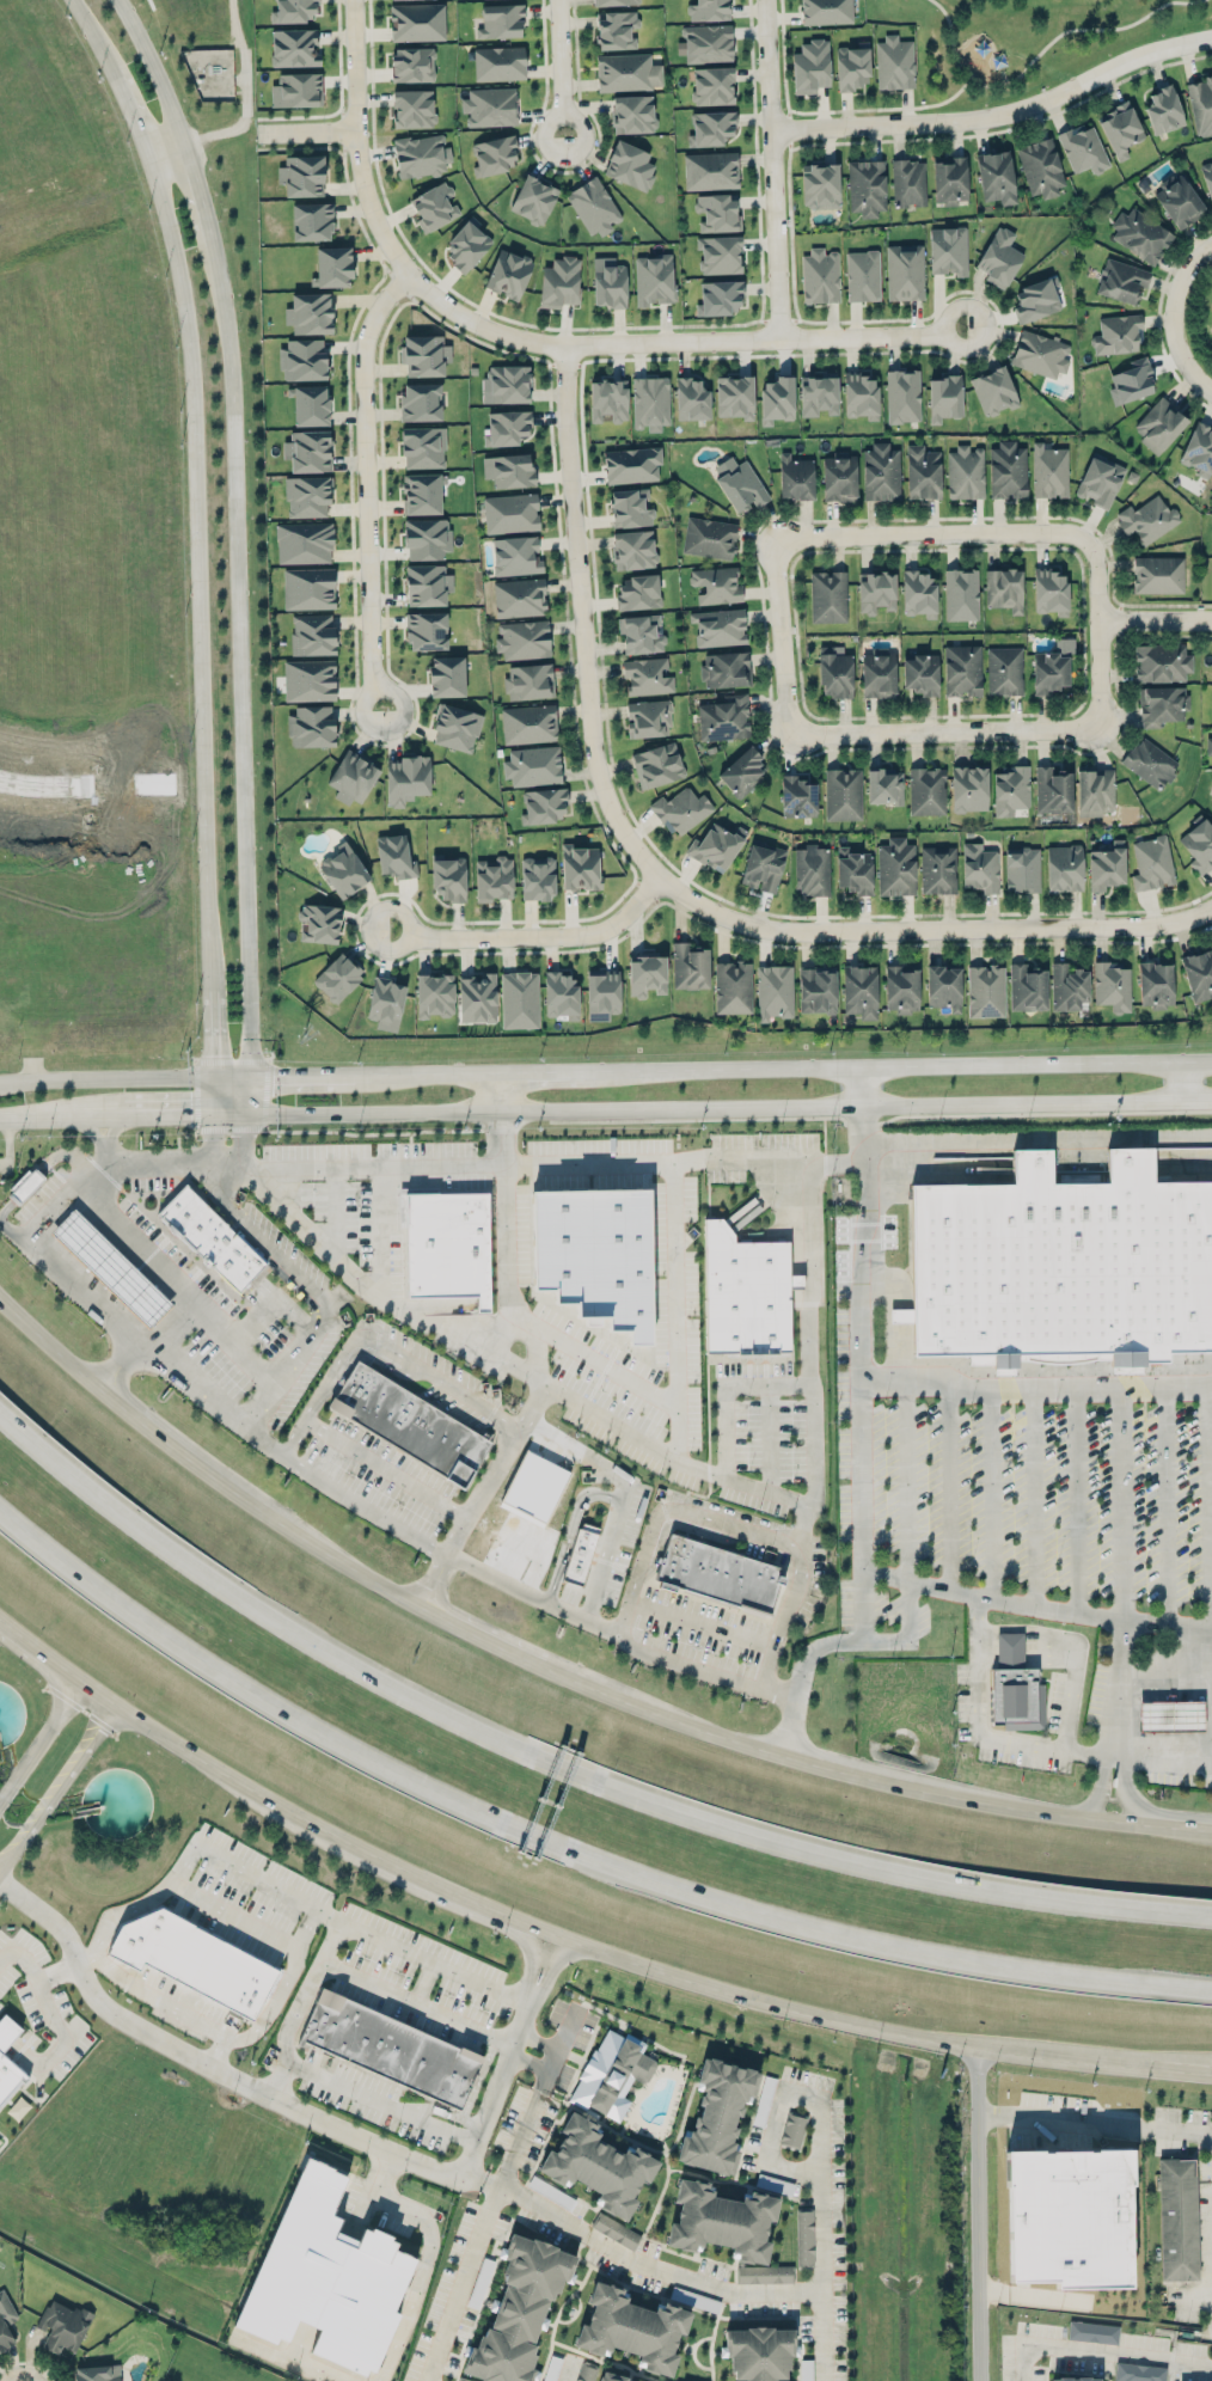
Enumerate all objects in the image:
building: (614, 2)
building: (293, 10)
building: (709, 10)
building: (826, 12)
building: (501, 20)
building: (417, 22)
building: (616, 29)
road: (92, 31)
building: (706, 43)
building: (294, 47)
road: (1040, 50)
road: (783, 54)
building: (894, 62)
building: (498, 63)
building: (412, 65)
road: (562, 66)
building: (810, 66)
building: (852, 66)
road: (157, 71)
building: (628, 72)
building: (712, 85)
building: (296, 90)
road: (245, 91)
building: (1201, 105)
building: (490, 106)
road: (130, 108)
building: (412, 109)
road: (876, 109)
building: (1163, 110)
building: (632, 114)
road: (996, 114)
building: (710, 128)
road: (307, 129)
building: (1120, 129)
building: (1083, 148)
road: (165, 149)
building: (421, 155)
building: (494, 155)
building: (630, 165)
building: (1040, 167)
building: (710, 170)
road: (770, 171)
building: (301, 175)
building: (996, 177)
building: (1207, 177)
building: (949, 179)
building: (908, 183)
building: (820, 185)
building: (867, 186)
road: (196, 192)
building: (533, 198)
road: (366, 201)
building: (1179, 201)
building: (593, 206)
building: (434, 207)
building: (717, 212)
building: (312, 221)
building: (1140, 234)
building: (466, 244)
building: (948, 250)
building: (720, 253)
building: (999, 257)
building: (332, 267)
building: (904, 271)
building: (508, 273)
building: (862, 275)
building: (820, 276)
building: (654, 279)
building: (1121, 281)
building: (559, 282)
building: (608, 282)
building: (720, 298)
building: (1036, 299)
building: (310, 313)
road: (1173, 317)
building: (1118, 333)
road: (737, 342)
building: (424, 354)
building: (1040, 354)
building: (304, 359)
building: (1131, 381)
building: (507, 384)
building: (993, 391)
building: (819, 394)
building: (861, 394)
building: (734, 396)
building: (902, 396)
building: (944, 397)
building: (691, 399)
building: (777, 399)
building: (608, 400)
building: (421, 402)
building: (650, 402)
building: (310, 405)
building: (1159, 424)
building: (506, 427)
building: (423, 447)
building: (1199, 449)
building: (308, 451)
building: (631, 464)
building: (509, 470)
building: (1008, 470)
building: (1049, 470)
building: (881, 472)
building: (923, 472)
building: (965, 472)
building: (795, 477)
building: (839, 477)
building: (1100, 479)
road: (369, 483)
building: (740, 483)
building: (421, 492)
building: (307, 496)
building: (630, 507)
road: (234, 509)
building: (510, 513)
building: (1147, 519)
road: (930, 535)
building: (709, 537)
building: (427, 538)
building: (304, 543)
building: (632, 549)
building: (516, 556)
road: (197, 567)
building: (1158, 574)
building: (427, 584)
building: (716, 584)
building: (308, 588)
building: (1003, 588)
building: (1051, 590)
building: (638, 592)
building: (876, 592)
building: (919, 593)
building: (961, 594)
building: (519, 596)
building: (827, 596)
road: (582, 622)
road: (1155, 622)
building: (718, 626)
building: (426, 630)
road: (1097, 631)
building: (312, 633)
building: (641, 633)
road: (781, 635)
building: (524, 638)
building: (1065, 644)
building: (1161, 662)
building: (726, 669)
building: (962, 669)
building: (1004, 671)
building: (1049, 672)
building: (834, 673)
building: (879, 673)
building: (920, 673)
building: (446, 675)
building: (647, 675)
building: (308, 680)
building: (528, 681)
building: (1161, 704)
building: (648, 717)
building: (724, 717)
building: (528, 723)
building: (311, 726)
building: (455, 728)
road: (942, 728)
building: (1208, 745)
building: (1150, 763)
building: (533, 765)
building: (657, 765)
building: (742, 771)
building: (353, 777)
building: (406, 778)
road: (120, 785)
building: (884, 785)
building: (968, 788)
building: (1010, 790)
building: (1053, 790)
building: (926, 791)
building: (1095, 791)
building: (843, 794)
building: (797, 796)
building: (1211, 803)
building: (544, 804)
building: (680, 809)
road: (134, 810)
road: (51, 812)
road: (243, 824)
building: (1199, 844)
building: (716, 846)
building: (394, 856)
building: (1151, 863)
building: (763, 865)
building: (1107, 865)
building: (580, 867)
building: (895, 867)
building: (979, 868)
building: (1064, 868)
building: (810, 869)
building: (937, 869)
building: (1022, 869)
building: (343, 870)
building: (855, 870)
building: (448, 876)
building: (537, 877)
building: (492, 879)
road: (164, 882)
road: (1206, 908)
building: (319, 923)
road: (924, 929)
road: (535, 934)
road: (108, 941)
building: (690, 966)
road: (246, 968)
building: (645, 974)
building: (1198, 974)
building: (337, 978)
building: (1155, 984)
building: (1112, 985)
building: (733, 986)
building: (944, 986)
building: (1067, 986)
building: (901, 987)
building: (1027, 987)
building: (816, 990)
building: (602, 991)
building: (773, 991)
building: (859, 991)
building: (985, 991)
building: (434, 994)
building: (561, 994)
building: (477, 998)
building: (519, 999)
building: (386, 1003)
road: (214, 1030)
road: (783, 1063)
road: (301, 1072)
road: (232, 1073)
traffic signals: (249, 1073)
traffic signals: (215, 1075)
road: (106, 1076)
road: (224, 1091)
road: (240, 1091)
road: (721, 1102)
traffic signals: (232, 1109)
road: (178, 1110)
road: (62, 1114)
road: (213, 1134)
road: (246, 1136)
road: (1040, 1137)
road: (769, 1159)
road: (613, 1161)
road: (166, 1163)
road: (367, 1167)
building: (25, 1185)
road: (333, 1208)
road: (507, 1229)
road: (384, 1230)
building: (210, 1236)
building: (446, 1243)
building: (595, 1255)
building: (112, 1267)
gas station: (112, 1267)
building: (1060, 1268)
road: (176, 1286)
road: (313, 1287)
building: (752, 1291)
road: (382, 1294)
road: (677, 1310)
road: (807, 1330)
road: (45, 1341)
road: (380, 1343)
road: (145, 1346)
road: (594, 1355)
road: (166, 1364)
road: (862, 1370)
road: (1036, 1388)
building: (409, 1421)
road: (620, 1427)
road: (723, 1428)
road: (185, 1457)
road: (386, 1469)
road: (908, 1479)
road: (951, 1485)
road: (994, 1489)
road: (1034, 1494)
road: (1077, 1498)
road: (1168, 1502)
road: (1207, 1505)
road: (475, 1506)
road: (668, 1507)
road: (569, 1529)
road: (611, 1534)
parking lot: (622, 1542)
building: (581, 1551)
road: (350, 1565)
road: (1122, 1571)
building: (717, 1572)
road: (581, 1587)
parking lot: (569, 1592)
road: (1035, 1600)
road: (590, 1605)
road: (782, 1616)
road: (702, 1622)
road: (619, 1630)
road: (479, 1635)
road: (831, 1641)
road: (1072, 1648)
road: (977, 1660)
building: (1012, 1684)
road: (1211, 1693)
road: (656, 1712)
building: (1170, 1714)
gas station: (1170, 1714)
road: (41, 1742)
road: (1046, 1745)
road: (1163, 1755)
road: (563, 1767)
road: (844, 1769)
road: (59, 1786)
road: (1098, 1787)
road: (1127, 1789)
road: (1027, 1808)
road: (1179, 1825)
road: (192, 1847)
road: (565, 1847)
road: (6, 1893)
road: (1, 1899)
road: (227, 1912)
road: (570, 1934)
road: (382, 1939)
building: (195, 1953)
road: (32, 1976)
road: (147, 1999)
road: (271, 2000)
road: (416, 2001)
building: (7, 2026)
road: (564, 2034)
road: (61, 2039)
building: (390, 2048)
road: (532, 2051)
road: (203, 2061)
building: (7, 2070)
building: (612, 2073)
road: (496, 2083)
road: (379, 2099)
building: (763, 2100)
road: (821, 2112)
building: (716, 2114)
road: (1095, 2122)
road: (526, 2123)
building: (792, 2130)
building: (599, 2165)
road: (479, 2178)
building: (775, 2183)
building: (552, 2192)
road: (979, 2210)
building: (1067, 2216)
building: (1177, 2218)
building: (721, 2221)
building: (616, 2229)
building: (804, 2238)
building: (764, 2273)
building: (326, 2276)
road: (692, 2279)
road: (460, 2283)
building: (694, 2299)
building: (520, 2310)
building: (6, 2319)
building: (62, 2325)
building: (630, 2328)
building: (1092, 2331)
road: (1104, 2350)
building: (758, 2352)
road: (29, 2362)
building: (1138, 2371)
building: (97, 2373)
building: (586, 2373)
building: (550, 2374)
building: (610, 2377)
building: (1075, 2379)

